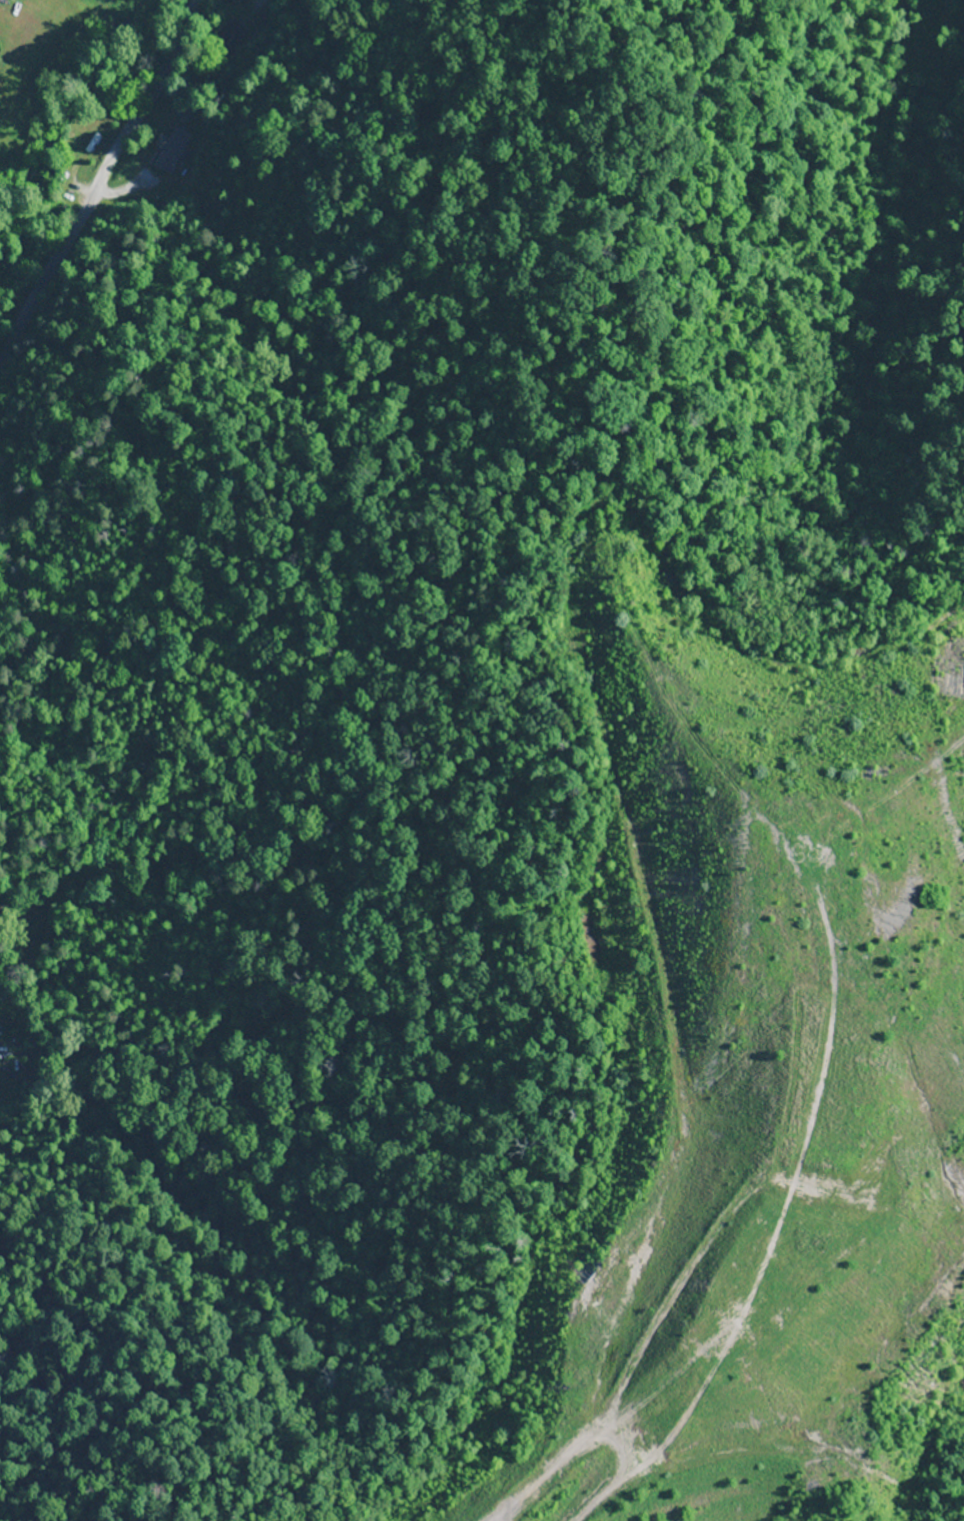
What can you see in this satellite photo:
road: (160, 15)
building: (232, 39)
road: (332, 71)
building: (171, 149)
road: (95, 192)

